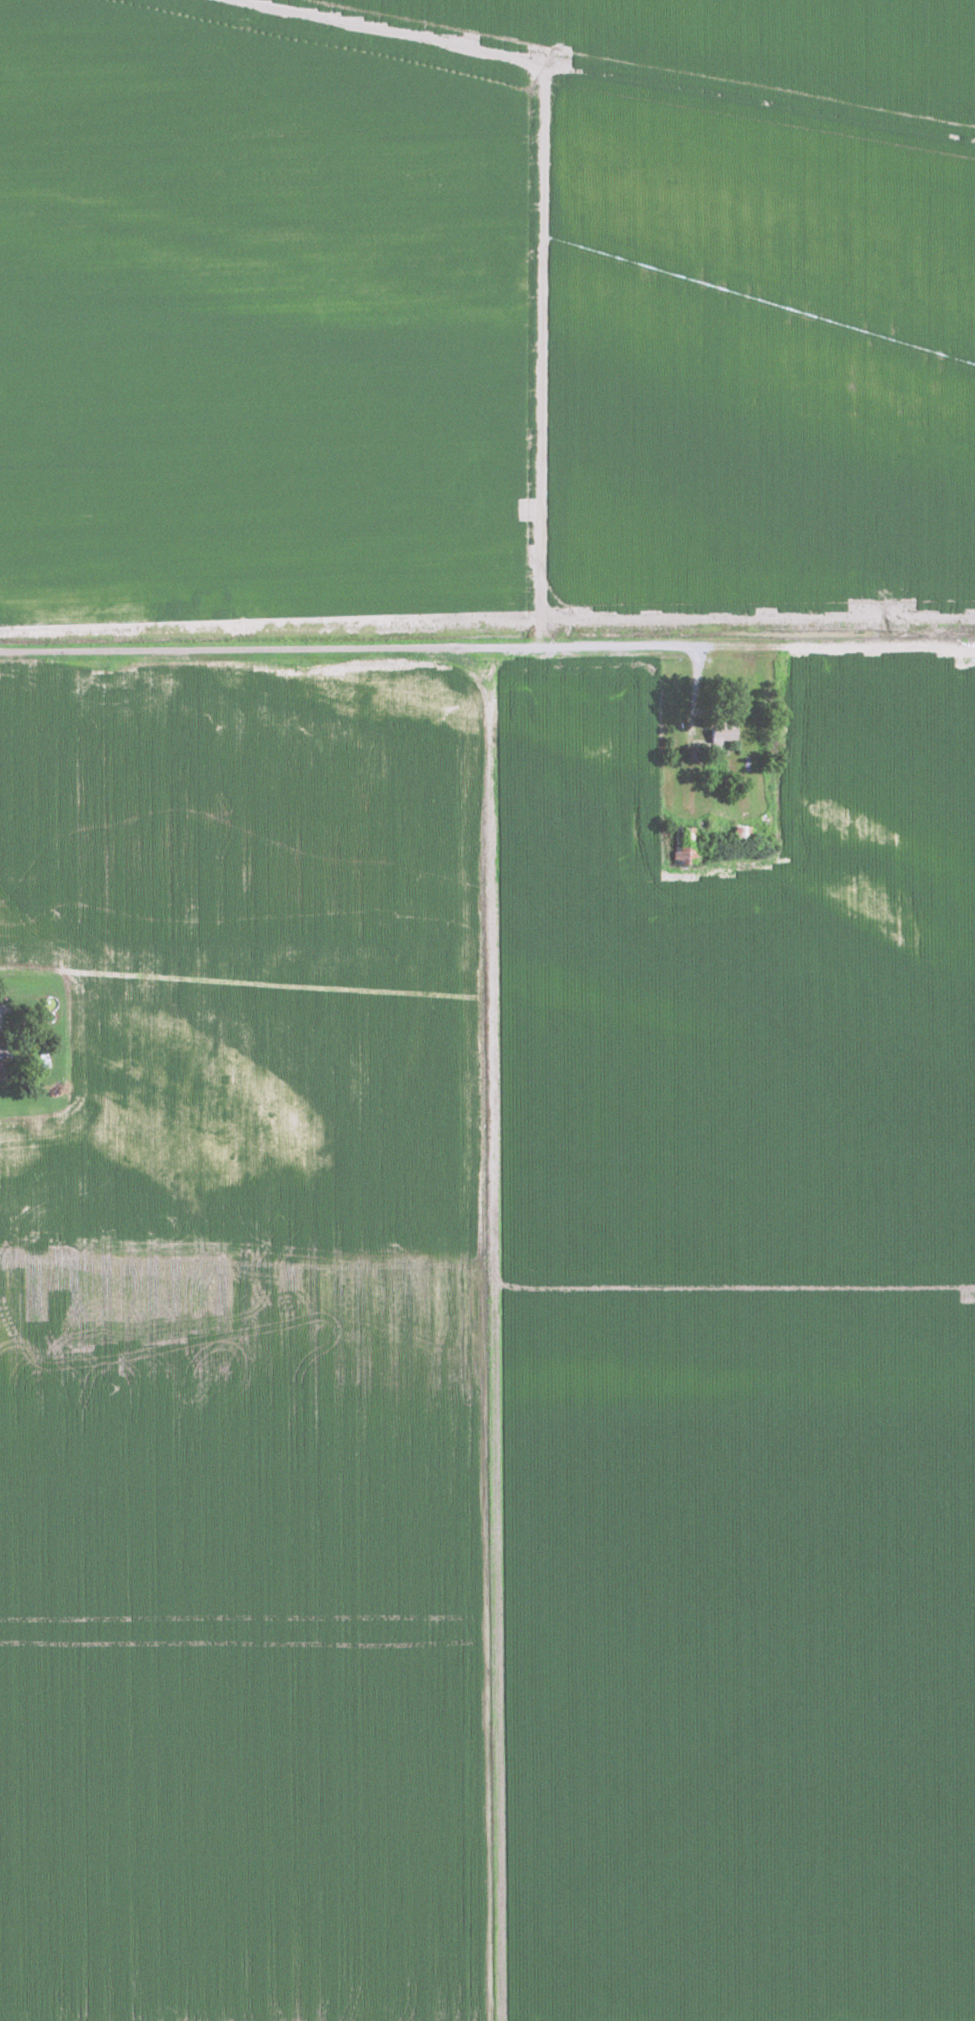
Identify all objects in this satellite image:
road: (487, 647)
building: (719, 734)
building: (720, 826)
building: (759, 829)
building: (684, 845)
road: (1, 1023)

